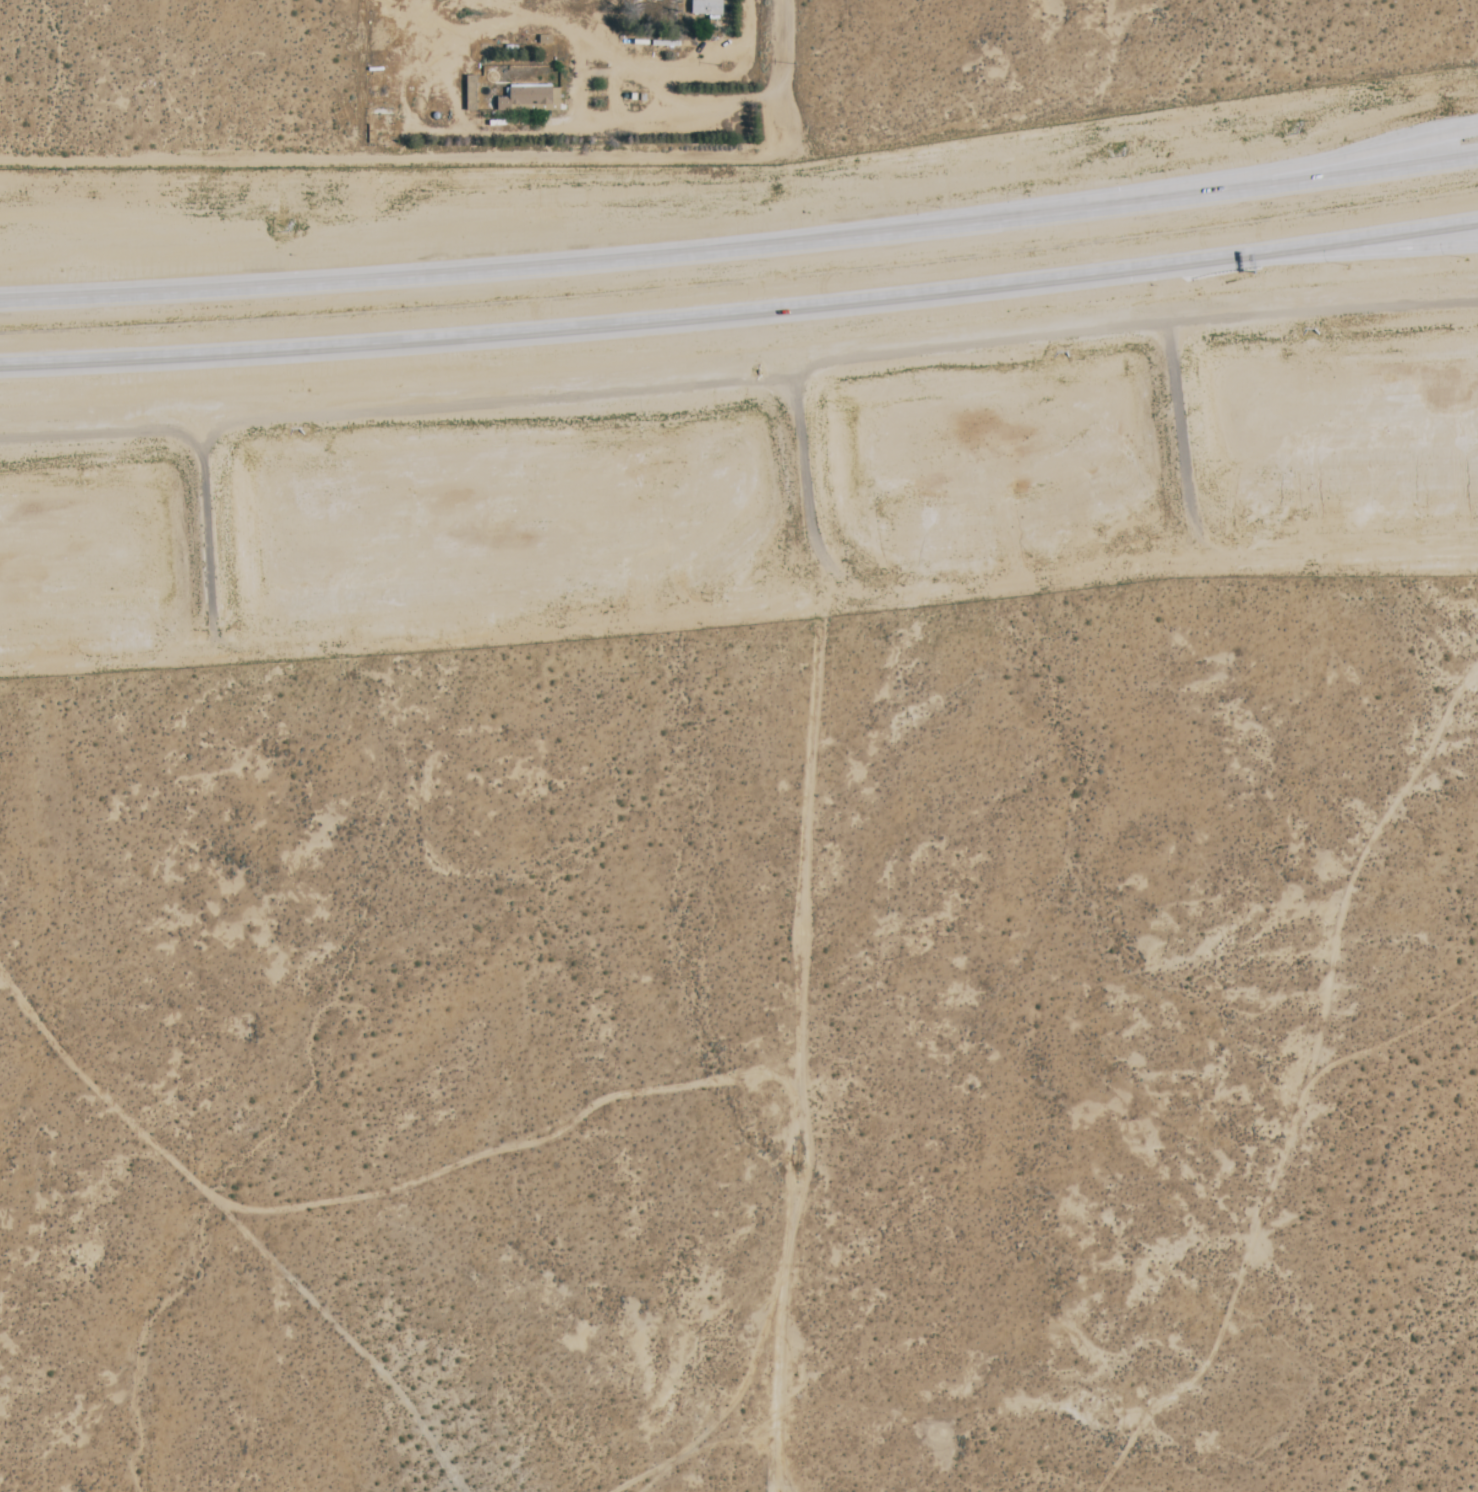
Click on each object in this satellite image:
building: (703, 8)
road: (733, 76)
road: (782, 78)
building: (532, 99)
road: (467, 129)
road: (391, 157)
road: (1268, 170)
road: (1268, 185)
road: (1375, 238)
road: (1375, 249)
road: (529, 267)
road: (637, 322)

